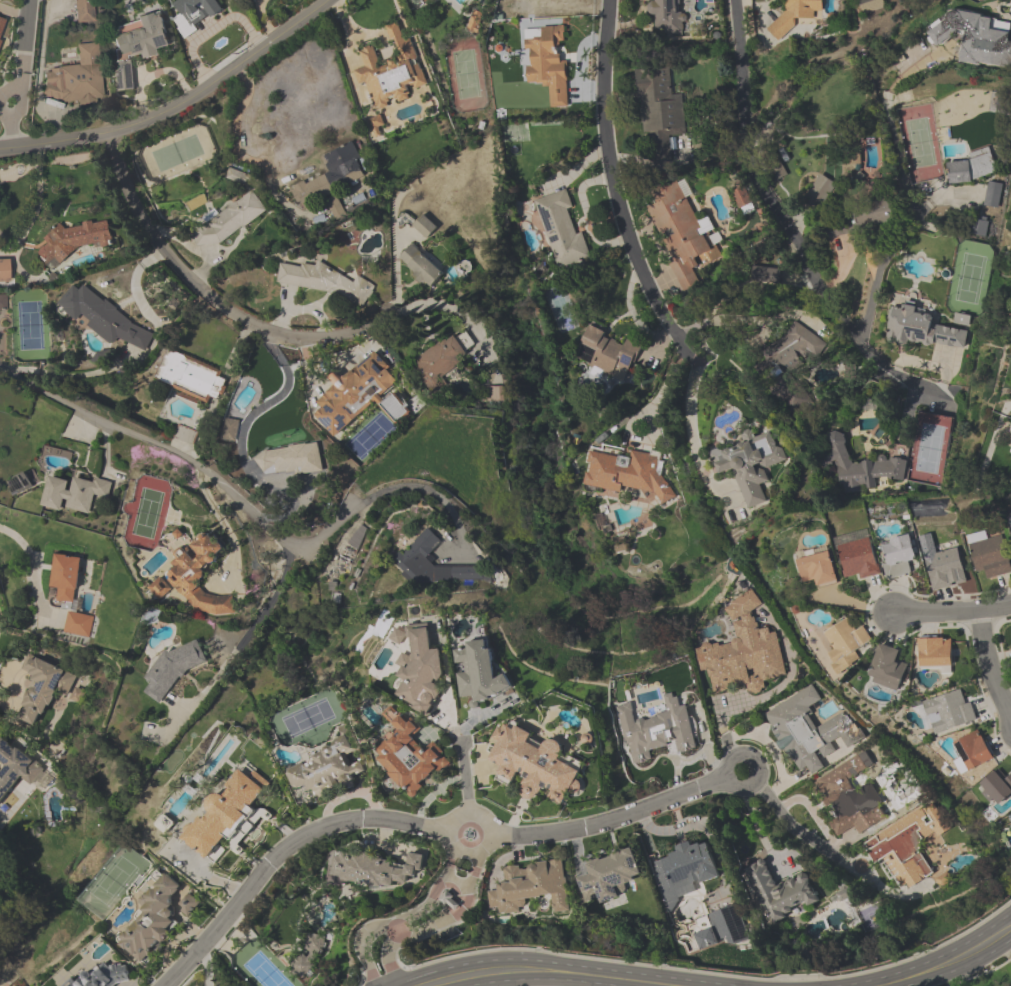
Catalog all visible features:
building: (426, 1)
building: (870, 5)
building: (83, 10)
building: (195, 13)
building: (795, 15)
building: (665, 17)
building: (2, 25)
building: (939, 32)
building: (986, 41)
road: (22, 45)
building: (137, 45)
building: (546, 65)
building: (390, 71)
building: (76, 79)
building: (1003, 102)
road: (27, 103)
road: (178, 106)
building: (659, 109)
road: (13, 135)
road: (235, 146)
building: (972, 167)
building: (777, 171)
building: (235, 176)
building: (331, 178)
road: (614, 182)
building: (818, 192)
building: (990, 195)
building: (860, 218)
building: (228, 221)
road: (781, 224)
building: (424, 227)
building: (561, 230)
building: (679, 231)
road: (888, 246)
building: (420, 266)
building: (4, 272)
building: (324, 281)
road: (208, 295)
road: (434, 305)
building: (105, 318)
building: (923, 329)
building: (607, 353)
building: (441, 360)
building: (786, 361)
building: (188, 375)
road: (660, 390)
building: (355, 393)
building: (1010, 429)
building: (231, 430)
road: (691, 434)
road: (239, 435)
road: (137, 443)
building: (1010, 443)
building: (1010, 450)
building: (288, 459)
building: (749, 465)
building: (856, 467)
building: (629, 473)
building: (19, 483)
building: (75, 494)
road: (365, 501)
building: (418, 553)
building: (989, 554)
building: (897, 556)
building: (856, 558)
road: (34, 566)
building: (942, 567)
building: (817, 569)
building: (199, 576)
building: (66, 579)
building: (160, 589)
road: (950, 615)
road: (260, 616)
building: (78, 625)
building: (845, 644)
building: (742, 653)
building: (934, 653)
road: (994, 663)
building: (887, 669)
building: (421, 671)
building: (477, 673)
building: (42, 687)
building: (949, 711)
building: (655, 730)
building: (808, 731)
building: (972, 751)
building: (409, 754)
building: (535, 764)
building: (331, 765)
building: (15, 767)
road: (464, 775)
building: (996, 787)
building: (846, 798)
building: (226, 814)
building: (1009, 817)
road: (618, 819)
building: (166, 824)
road: (797, 831)
road: (447, 839)
building: (907, 847)
road: (278, 853)
road: (463, 861)
building: (687, 867)
building: (376, 869)
building: (609, 875)
building: (530, 887)
building: (779, 893)
building: (189, 905)
building: (153, 921)
road: (408, 924)
building: (728, 925)
building: (308, 953)
road: (947, 963)
road: (557, 971)
building: (105, 975)

